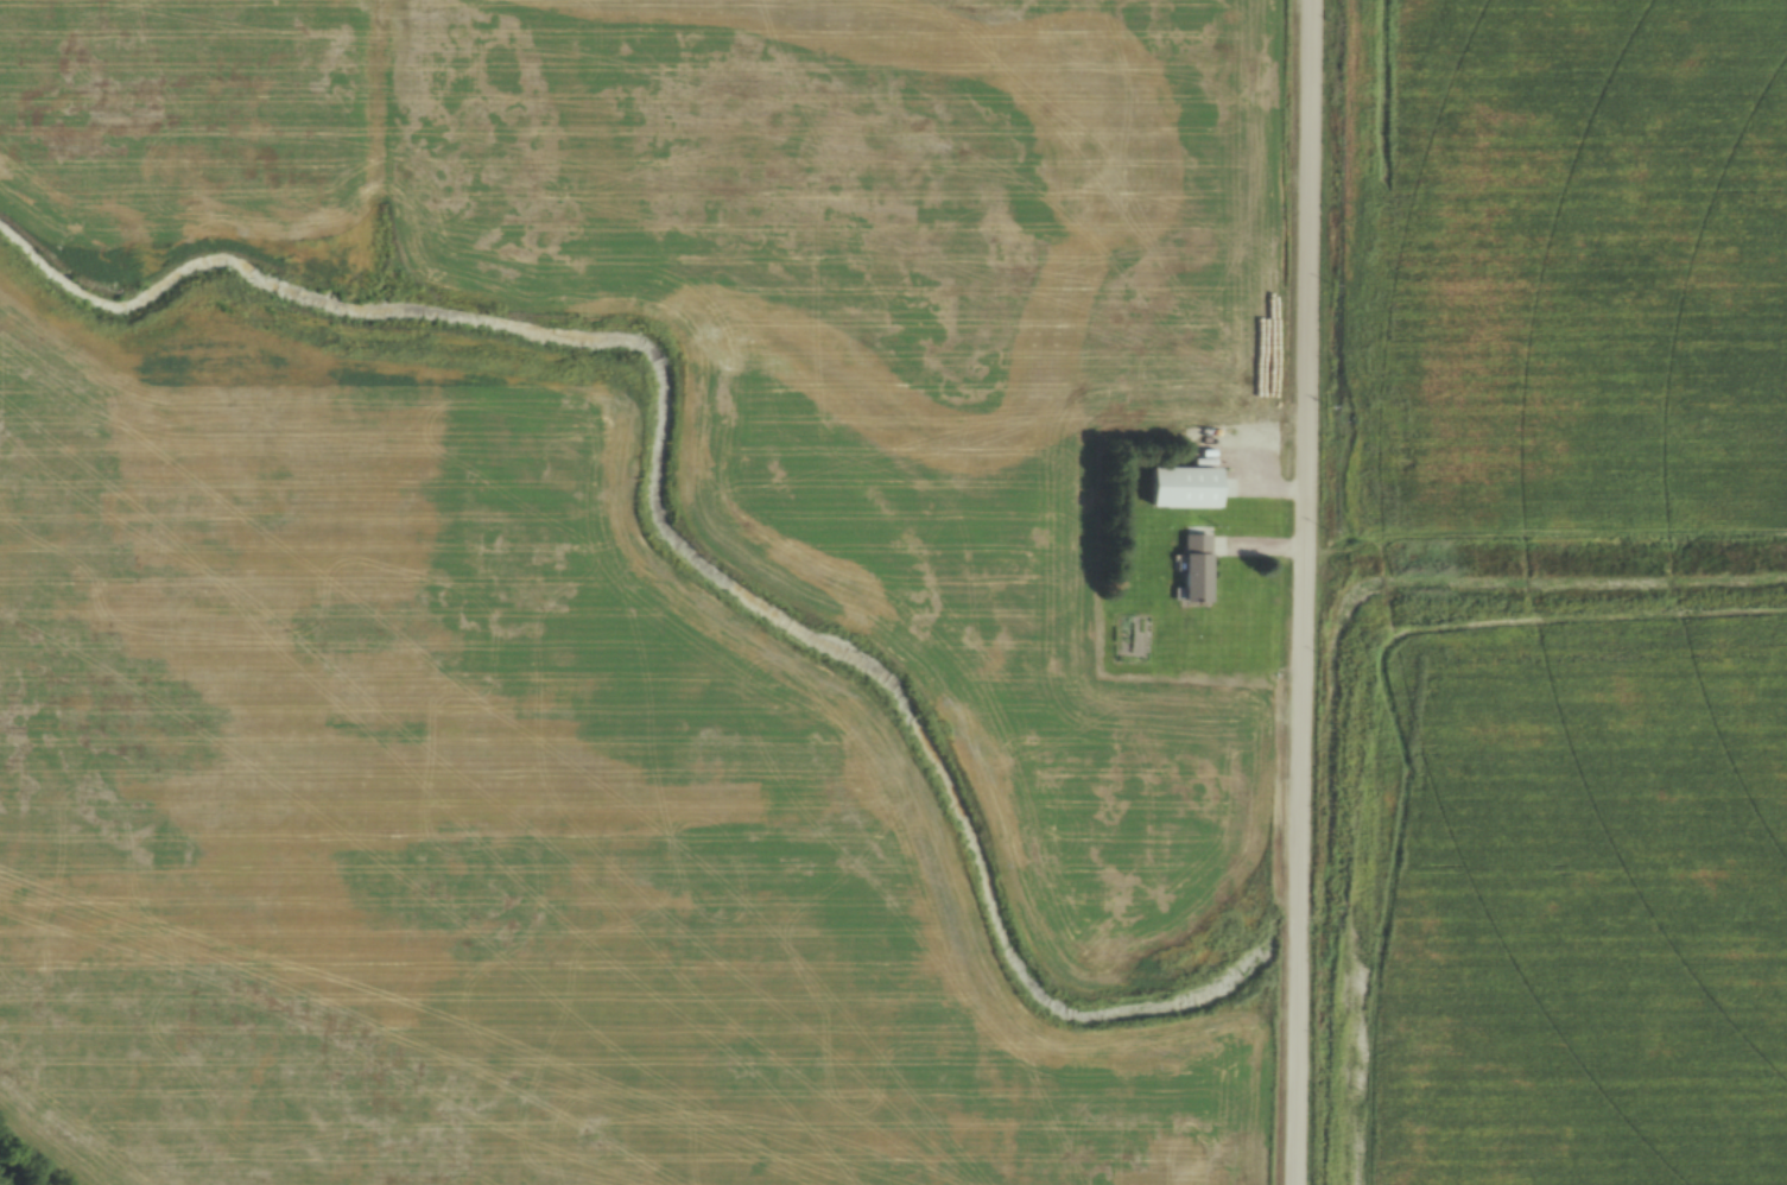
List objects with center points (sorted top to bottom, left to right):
building: (1187, 488)
building: (1200, 565)
road: (1303, 592)

